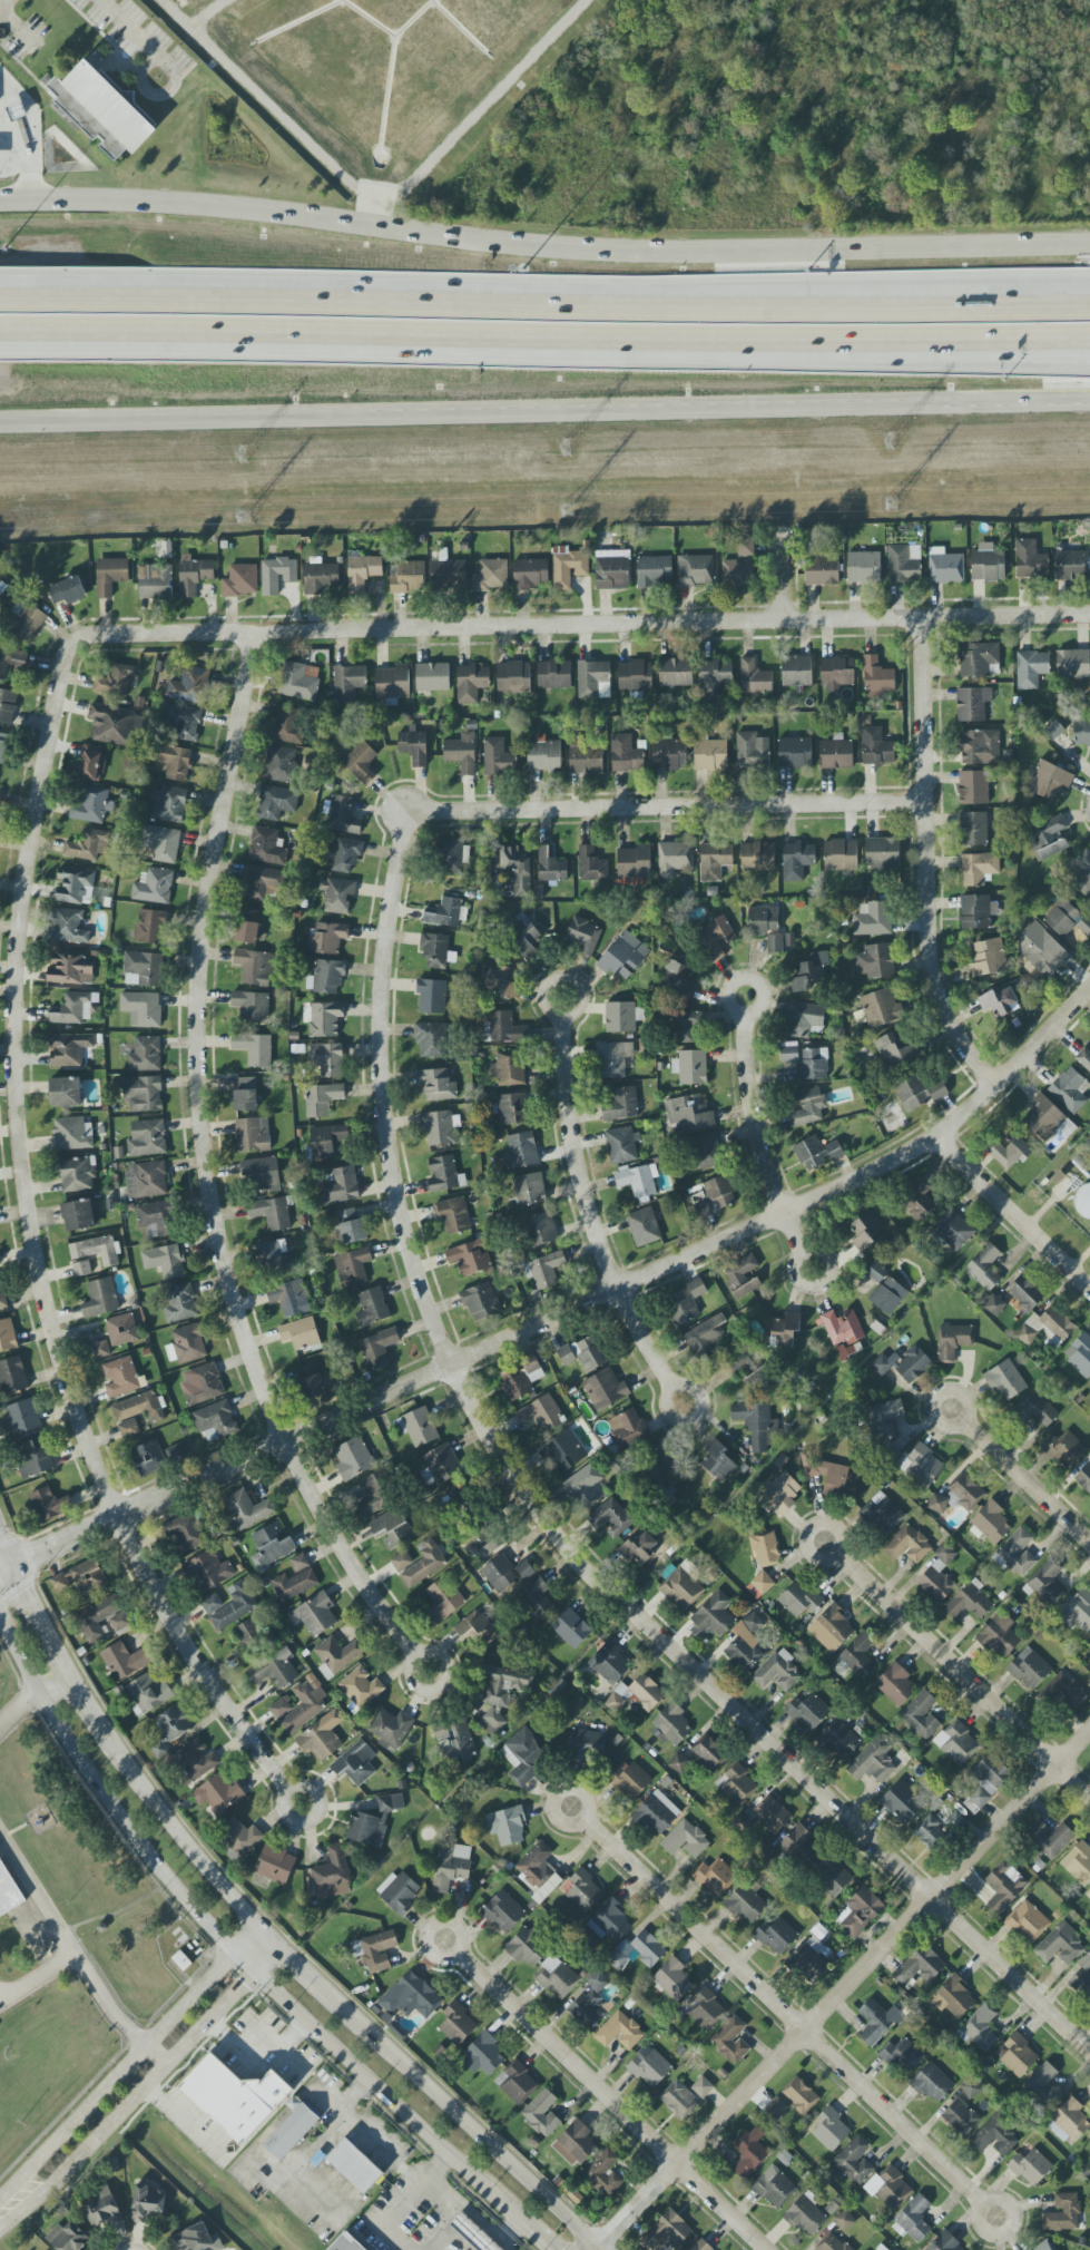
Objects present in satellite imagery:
road: (4, 3)
road: (173, 17)
road: (216, 17)
road: (128, 26)
road: (159, 92)
road: (1, 105)
building: (105, 115)
road: (28, 163)
road: (402, 196)
road: (543, 243)
road: (544, 309)
road: (518, 334)
road: (1063, 336)
road: (1063, 339)
road: (1025, 401)
road: (480, 412)
power tower: (892, 442)
power tower: (567, 444)
power tower: (244, 454)
power tower: (888, 498)
power tower: (564, 507)
power tower: (243, 516)
building: (745, 547)
building: (1029, 560)
building: (988, 562)
building: (904, 564)
building: (945, 566)
building: (1071, 566)
building: (568, 567)
building: (864, 567)
building: (612, 569)
building: (652, 570)
building: (695, 570)
building: (822, 570)
building: (362, 571)
building: (448, 574)
building: (530, 574)
building: (737, 574)
building: (110, 575)
building: (193, 575)
building: (277, 575)
building: (490, 576)
road: (787, 576)
building: (407, 577)
building: (321, 578)
building: (240, 580)
building: (155, 581)
building: (67, 590)
building: (24, 620)
road: (578, 624)
building: (978, 658)
building: (10, 659)
building: (1072, 664)
building: (1031, 668)
building: (796, 671)
building: (675, 672)
building: (836, 673)
building: (553, 674)
building: (635, 675)
building: (432, 677)
building: (591, 677)
building: (714, 677)
building: (513, 678)
building: (755, 678)
building: (877, 678)
building: (115, 681)
building: (297, 682)
building: (348, 682)
building: (471, 682)
building: (393, 683)
building: (189, 686)
building: (972, 703)
building: (8, 706)
building: (181, 721)
building: (115, 724)
building: (287, 725)
building: (1054, 730)
building: (1081, 733)
building: (3, 746)
building: (980, 746)
building: (413, 747)
building: (875, 747)
building: (752, 751)
building: (462, 753)
building: (794, 753)
building: (626, 754)
building: (669, 754)
building: (710, 754)
building: (835, 754)
building: (543, 755)
building: (498, 757)
building: (586, 761)
building: (174, 762)
building: (361, 762)
building: (90, 764)
building: (281, 764)
building: (1049, 780)
building: (973, 788)
building: (0, 793)
building: (276, 802)
building: (167, 804)
building: (91, 805)
road: (664, 806)
building: (341, 815)
building: (973, 829)
building: (1047, 838)
building: (161, 843)
building: (87, 845)
building: (265, 847)
building: (882, 852)
building: (345, 854)
building: (451, 854)
building: (839, 855)
building: (757, 857)
building: (675, 859)
building: (796, 860)
building: (635, 861)
building: (714, 861)
road: (925, 862)
building: (550, 865)
building: (591, 865)
building: (517, 868)
building: (979, 868)
building: (1081, 872)
building: (262, 882)
building: (75, 886)
building: (153, 887)
building: (336, 894)
building: (974, 911)
building: (443, 912)
building: (1062, 918)
building: (872, 919)
building: (70, 926)
building: (765, 926)
building: (149, 927)
building: (249, 927)
building: (1083, 927)
building: (523, 933)
building: (585, 936)
building: (327, 938)
building: (717, 939)
building: (1042, 950)
building: (434, 951)
building: (623, 956)
building: (988, 958)
building: (875, 960)
building: (254, 967)
building: (69, 969)
building: (143, 969)
building: (809, 972)
building: (326, 977)
building: (678, 977)
building: (501, 980)
building: (431, 996)
building: (1000, 1002)
building: (252, 1005)
building: (73, 1008)
building: (141, 1008)
building: (880, 1008)
road: (553, 1011)
road: (735, 1011)
building: (620, 1017)
building: (325, 1019)
building: (805, 1019)
building: (685, 1026)
building: (504, 1027)
building: (430, 1039)
building: (254, 1048)
building: (70, 1049)
building: (895, 1049)
building: (789, 1051)
building: (145, 1055)
building: (327, 1059)
building: (612, 1059)
building: (1083, 1059)
building: (814, 1064)
building: (507, 1067)
building: (690, 1067)
building: (436, 1085)
building: (1069, 1090)
building: (65, 1092)
building: (920, 1093)
building: (143, 1094)
building: (245, 1094)
building: (322, 1099)
building: (621, 1105)
building: (807, 1107)
building: (510, 1108)
building: (688, 1114)
building: (1042, 1117)
building: (440, 1127)
building: (72, 1134)
building: (253, 1135)
building: (147, 1138)
road: (757, 1138)
building: (325, 1141)
building: (621, 1145)
building: (1009, 1150)
building: (520, 1151)
building: (706, 1151)
building: (835, 1151)
building: (811, 1153)
road: (202, 1167)
building: (77, 1174)
building: (262, 1174)
building: (444, 1174)
building: (146, 1180)
building: (638, 1181)
building: (340, 1186)
building: (529, 1190)
building: (711, 1196)
building: (917, 1201)
building: (1083, 1201)
road: (589, 1210)
building: (273, 1212)
road: (1012, 1213)
building: (80, 1215)
building: (453, 1215)
building: (155, 1219)
building: (353, 1225)
building: (644, 1226)
building: (540, 1230)
building: (866, 1230)
building: (953, 1230)
road: (30, 1245)
building: (96, 1250)
building: (273, 1255)
building: (470, 1258)
road: (798, 1258)
building: (164, 1261)
building: (81, 1268)
building: (352, 1268)
building: (984, 1268)
building: (743, 1276)
building: (696, 1288)
building: (884, 1289)
building: (1025, 1293)
building: (2, 1295)
building: (289, 1298)
building: (99, 1299)
building: (481, 1302)
building: (179, 1303)
building: (994, 1305)
building: (681, 1307)
building: (372, 1308)
road: (567, 1312)
building: (1057, 1323)
building: (842, 1328)
building: (121, 1329)
building: (784, 1330)
building: (299, 1333)
building: (8, 1336)
building: (705, 1337)
building: (952, 1341)
building: (186, 1344)
building: (379, 1348)
building: (101, 1349)
building: (845, 1351)
building: (583, 1353)
building: (1080, 1354)
building: (882, 1364)
building: (913, 1364)
building: (749, 1370)
building: (12, 1376)
building: (122, 1377)
building: (520, 1379)
building: (1005, 1380)
building: (310, 1381)
building: (202, 1385)
building: (605, 1389)
road: (669, 1392)
building: (139, 1408)
building: (1034, 1410)
building: (541, 1413)
building: (21, 1418)
building: (884, 1419)
building: (215, 1420)
building: (757, 1424)
road: (961, 1425)
building: (418, 1427)
building: (627, 1428)
building: (128, 1429)
building: (1064, 1449)
building: (561, 1452)
building: (887, 1452)
building: (176, 1455)
building: (33, 1458)
building: (148, 1458)
building: (353, 1459)
building: (718, 1461)
building: (442, 1464)
building: (922, 1465)
building: (831, 1476)
building: (1084, 1478)
road: (1027, 1483)
building: (582, 1486)
building: (660, 1490)
building: (782, 1493)
building: (375, 1495)
building: (958, 1496)
building: (455, 1500)
building: (49, 1504)
building: (246, 1509)
building: (882, 1514)
building: (610, 1518)
building: (990, 1524)
road: (552, 1528)
building: (392, 1529)
road: (808, 1532)
building: (185, 1533)
building: (480, 1540)
building: (907, 1545)
building: (272, 1546)
building: (639, 1547)
building: (765, 1549)
road: (4, 1553)
building: (1017, 1554)
building: (420, 1563)
traffic signals: (9, 1567)
building: (524, 1569)
building: (208, 1571)
building: (500, 1574)
building: (939, 1575)
building: (87, 1576)
building: (295, 1579)
building: (60, 1583)
building: (1047, 1584)
building: (759, 1585)
building: (683, 1586)
building: (799, 1598)
building: (443, 1600)
building: (536, 1600)
building: (969, 1603)
building: (212, 1604)
building: (234, 1606)
building: (1078, 1611)
building: (316, 1614)
building: (714, 1615)
building: (97, 1617)
building: (119, 1622)
building: (571, 1628)
building: (832, 1628)
building: (477, 1630)
building: (249, 1634)
building: (1000, 1636)
building: (746, 1643)
road: (52, 1654)
building: (336, 1655)
building: (858, 1656)
building: (1089, 1659)
building: (124, 1661)
road: (411, 1663)
building: (610, 1663)
building: (274, 1669)
building: (1029, 1669)
building: (777, 1672)
road: (962, 1676)
road: (48, 1680)
building: (895, 1684)
building: (362, 1686)
building: (148, 1693)
building: (1062, 1693)
building: (636, 1694)
road: (17, 1705)
building: (281, 1708)
building: (808, 1712)
building: (921, 1715)
building: (174, 1722)
building: (671, 1725)
building: (390, 1729)
building: (441, 1731)
building: (322, 1737)
building: (841, 1740)
building: (956, 1743)
building: (459, 1744)
building: (587, 1745)
building: (709, 1754)
building: (524, 1755)
building: (195, 1761)
building: (873, 1761)
building: (355, 1763)
building: (629, 1779)
building: (986, 1782)
building: (737, 1784)
road: (284, 1794)
building: (217, 1796)
building: (390, 1802)
building: (902, 1802)
building: (656, 1812)
building: (773, 1813)
road: (587, 1817)
building: (507, 1826)
building: (937, 1828)
building: (365, 1829)
building: (239, 1837)
road: (180, 1839)
building: (1049, 1839)
building: (685, 1840)
building: (799, 1846)
building: (1078, 1863)
building: (275, 1865)
building: (536, 1865)
building: (450, 1866)
building: (332, 1875)
building: (715, 1877)
building: (831, 1877)
building: (1004, 1886)
building: (547, 1888)
road: (38, 1891)
building: (400, 1891)
building: (582, 1891)
building: (1088, 1895)
building: (7, 1896)
building: (746, 1904)
building: (503, 1911)
building: (858, 1911)
building: (1027, 1920)
building: (610, 1921)
road: (431, 1927)
building: (819, 1933)
building: (777, 1935)
road: (220, 1939)
road: (249, 1941)
building: (1060, 1946)
building: (527, 1947)
building: (375, 1950)
road: (261, 1951)
road: (292, 1957)
building: (809, 1959)
building: (919, 1967)
building: (556, 1976)
building: (1083, 1977)
building: (672, 1979)
road: (38, 1985)
road: (841, 1990)
building: (953, 1997)
building: (411, 1998)
building: (591, 2002)
building: (706, 2011)
road: (782, 2013)
road: (115, 2016)
road: (259, 2019)
building: (876, 2022)
building: (456, 2024)
building: (981, 2027)
building: (619, 2032)
building: (730, 2039)
building: (483, 2055)
building: (1017, 2055)
building: (903, 2056)
building: (649, 2066)
road: (115, 2074)
road: (286, 2082)
building: (517, 2083)
building: (932, 2083)
building: (703, 2087)
building: (1041, 2087)
building: (799, 2095)
building: (235, 2097)
building: (678, 2099)
road: (609, 2102)
road: (128, 2103)
building: (776, 2107)
building: (541, 2113)
road: (455, 2114)
road: (185, 2117)
building: (961, 2117)
building: (1068, 2122)
road: (328, 2127)
building: (291, 2129)
building: (831, 2130)
building: (994, 2137)
building: (575, 2143)
building: (748, 2152)
building: (855, 2160)
building: (355, 2165)
building: (1030, 2168)
building: (603, 2172)
building: (775, 2188)
building: (888, 2188)
building: (147, 2202)
road: (406, 2202)
road: (981, 2203)
building: (101, 2209)
road: (470, 2212)
building: (1064, 2213)
building: (806, 2215)
building: (843, 2220)
building: (913, 2220)
road: (524, 2228)
road: (508, 2229)
building: (472, 2233)
road: (445, 2234)
building: (68, 2237)
building: (196, 2239)
building: (346, 2243)
building: (834, 2243)
building: (943, 2243)
building: (701, 2246)
building: (1043, 2246)
road: (597, 2249)

